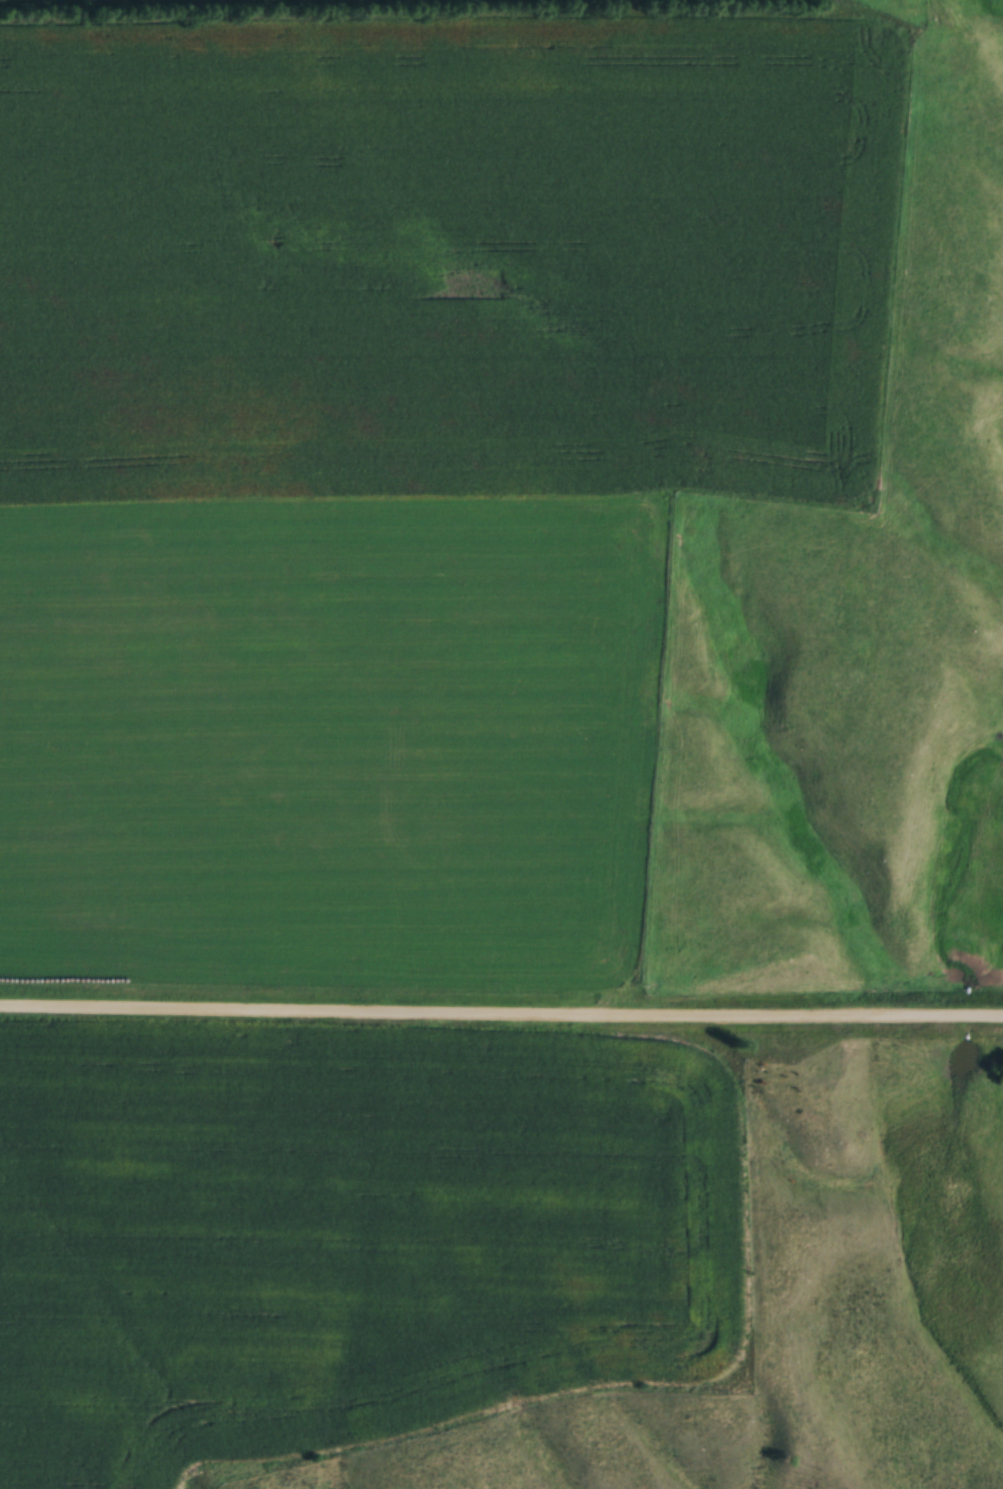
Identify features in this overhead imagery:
road: (501, 1009)

